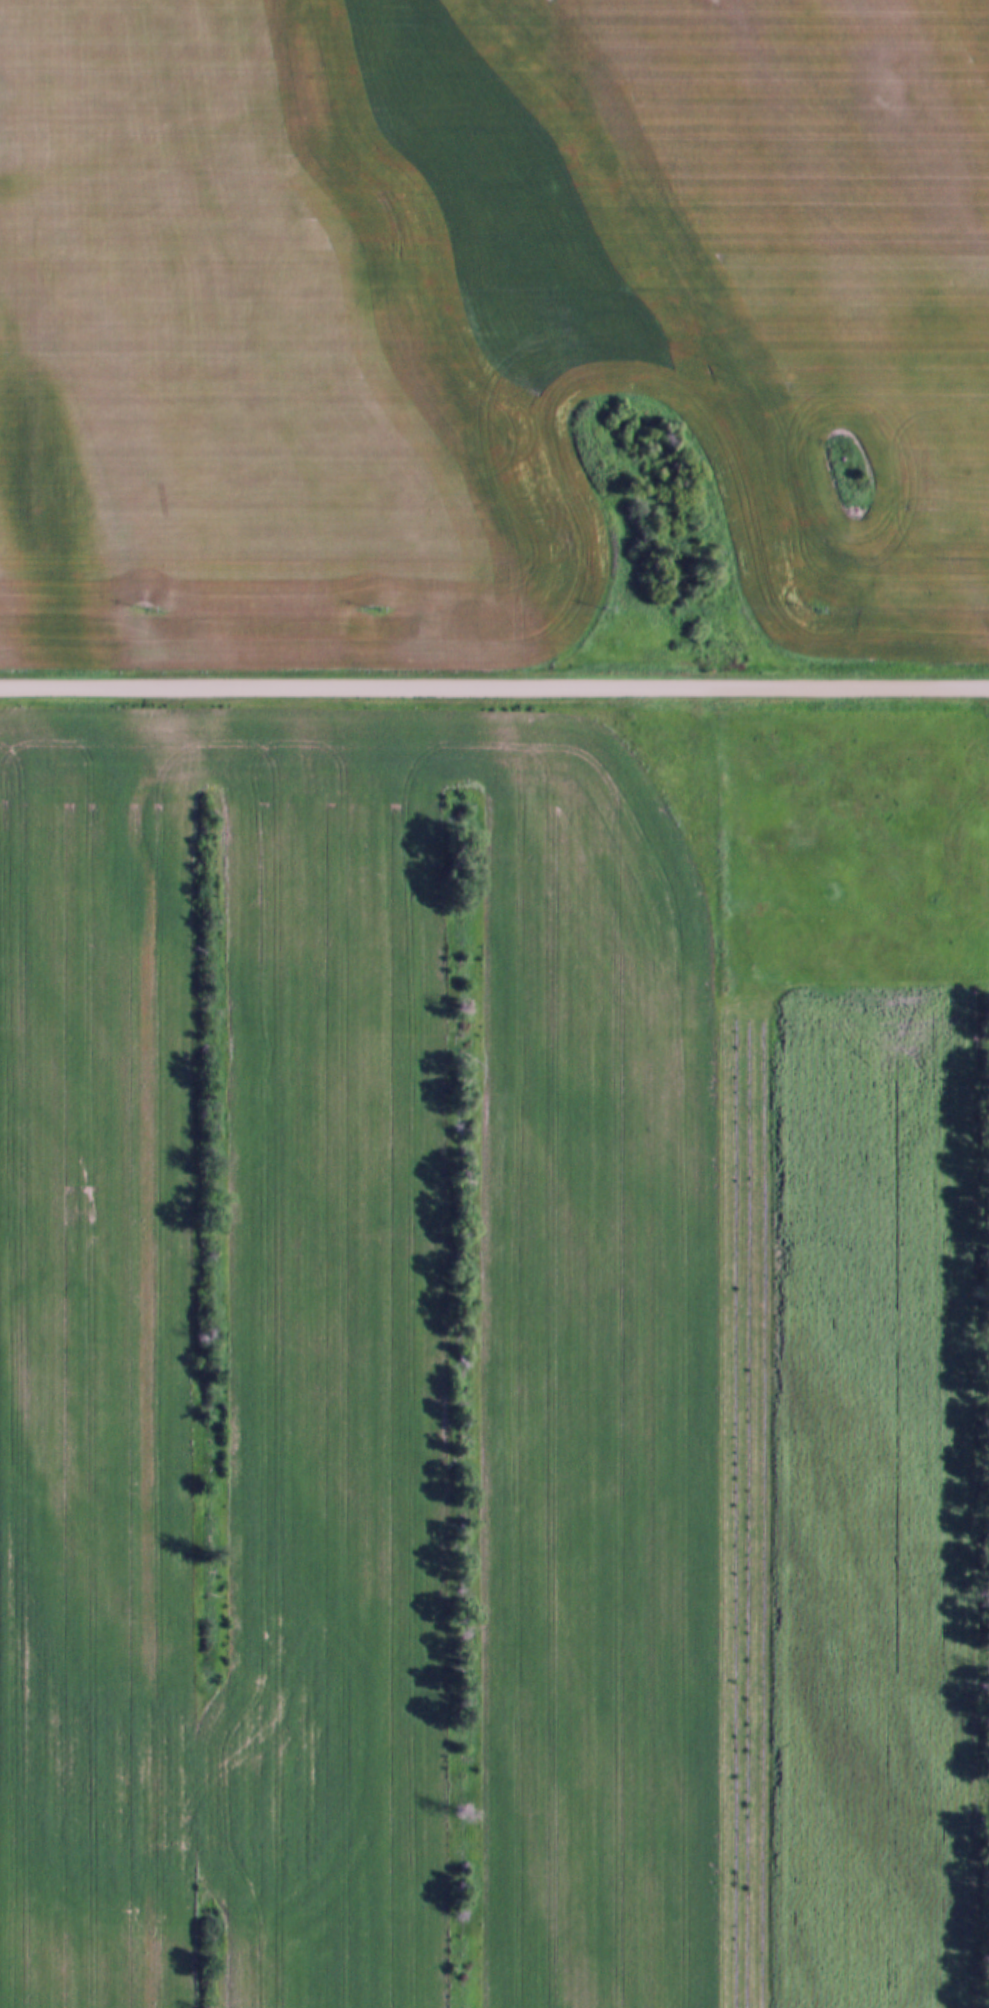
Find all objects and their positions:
road: (494, 690)

